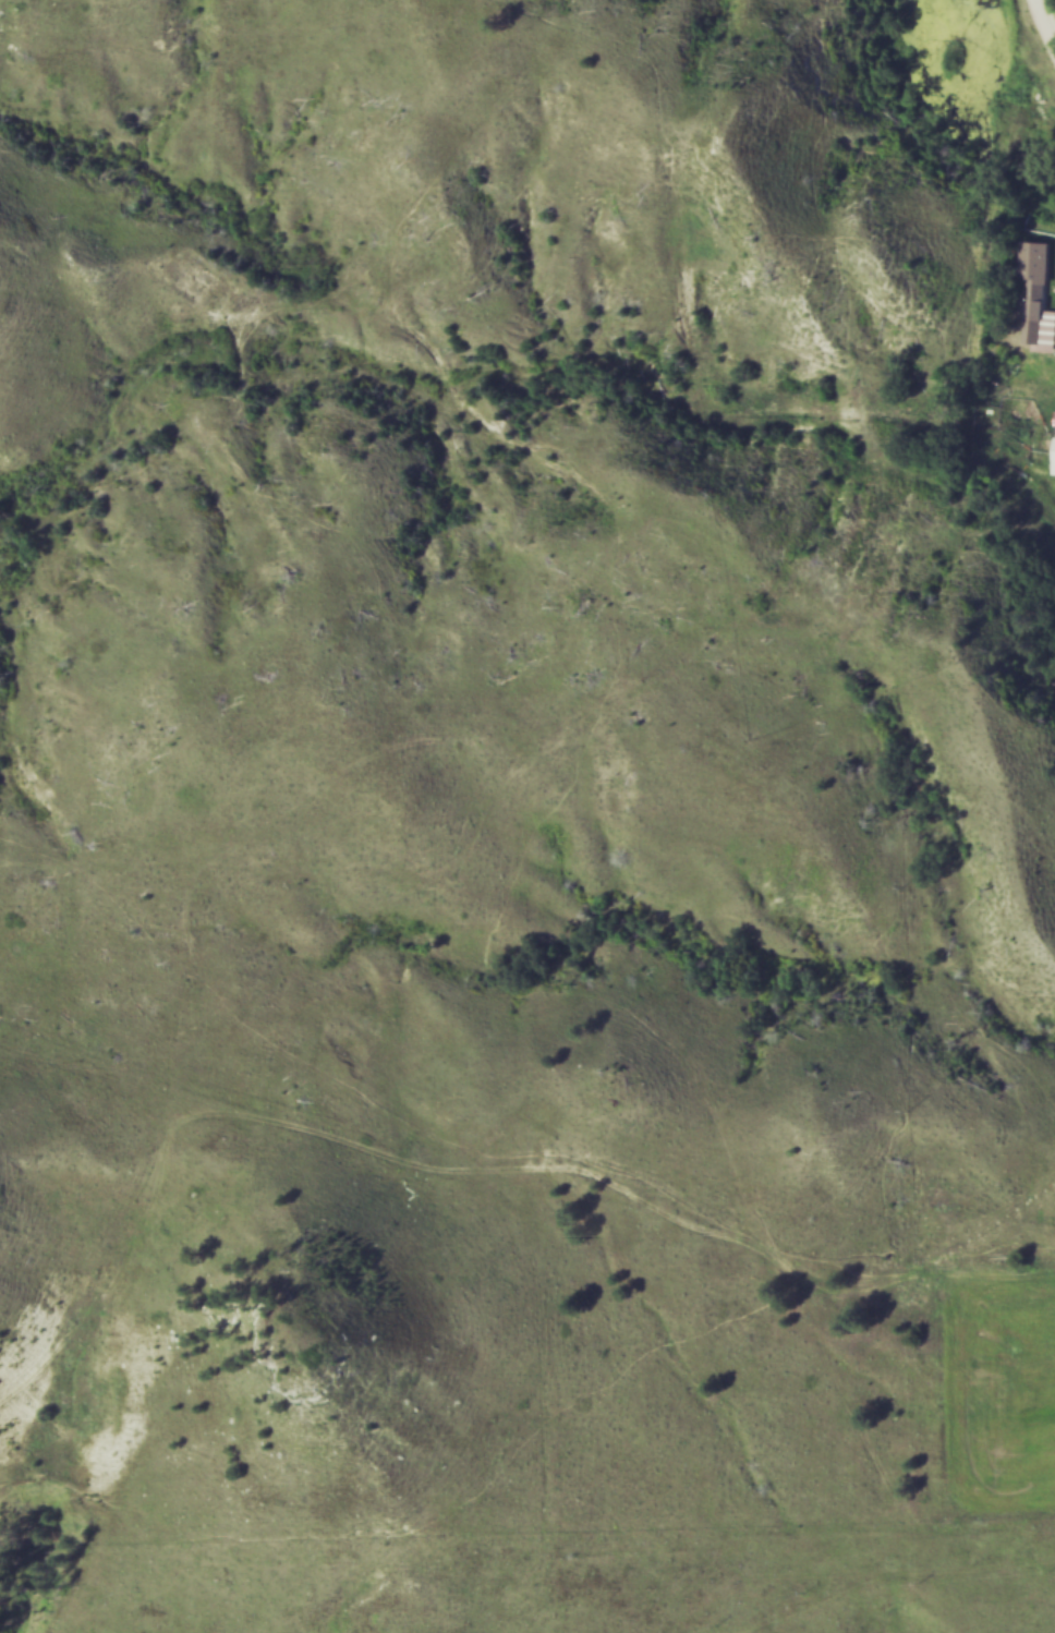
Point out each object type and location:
road: (1039, 33)
building: (1039, 294)

